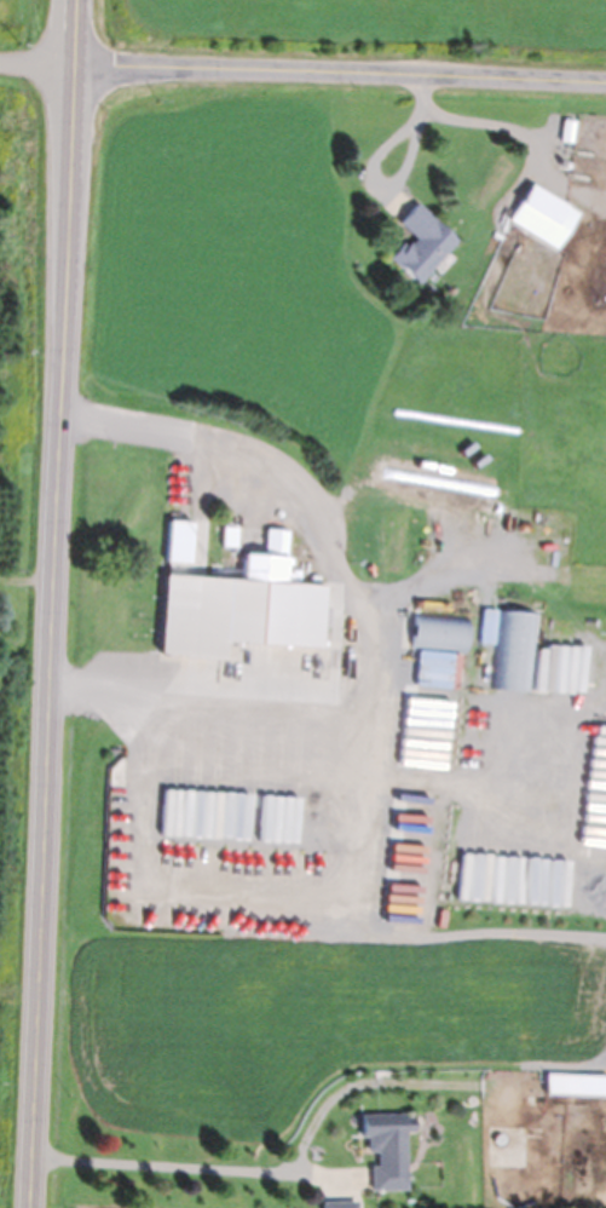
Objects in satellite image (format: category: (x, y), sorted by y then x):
road: (39, 59)
road: (342, 64)
building: (547, 217)
building: (423, 242)
road: (56, 603)
building: (244, 608)
building: (439, 632)
building: (512, 650)
building: (560, 671)
building: (564, 1085)
building: (391, 1154)

